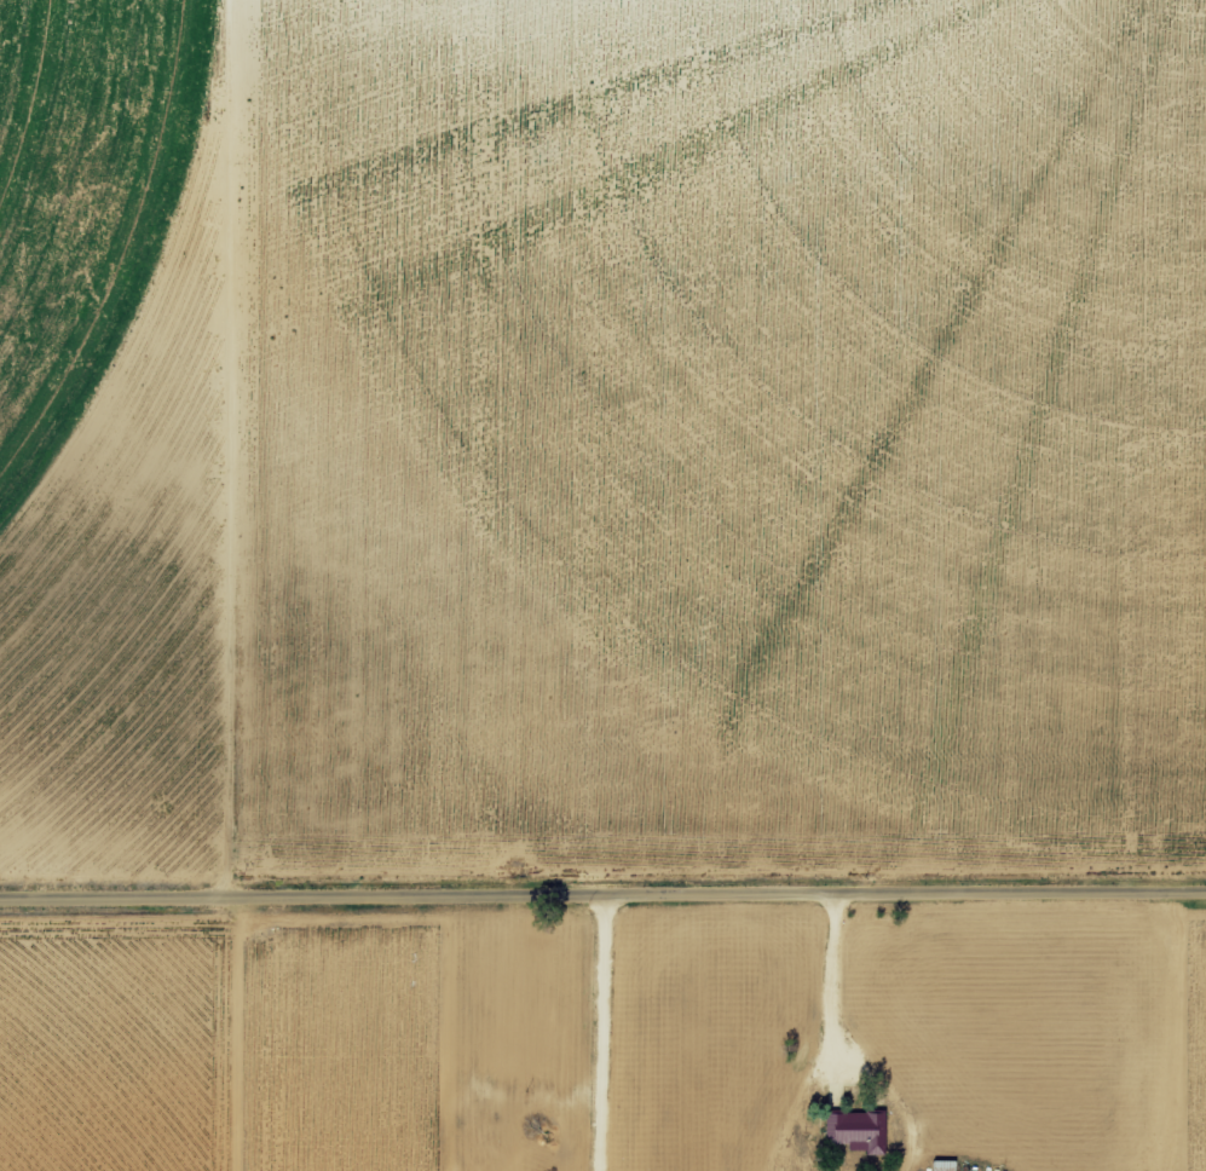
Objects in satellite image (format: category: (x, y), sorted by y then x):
road: (602, 896)
road: (824, 988)
road: (596, 1034)

